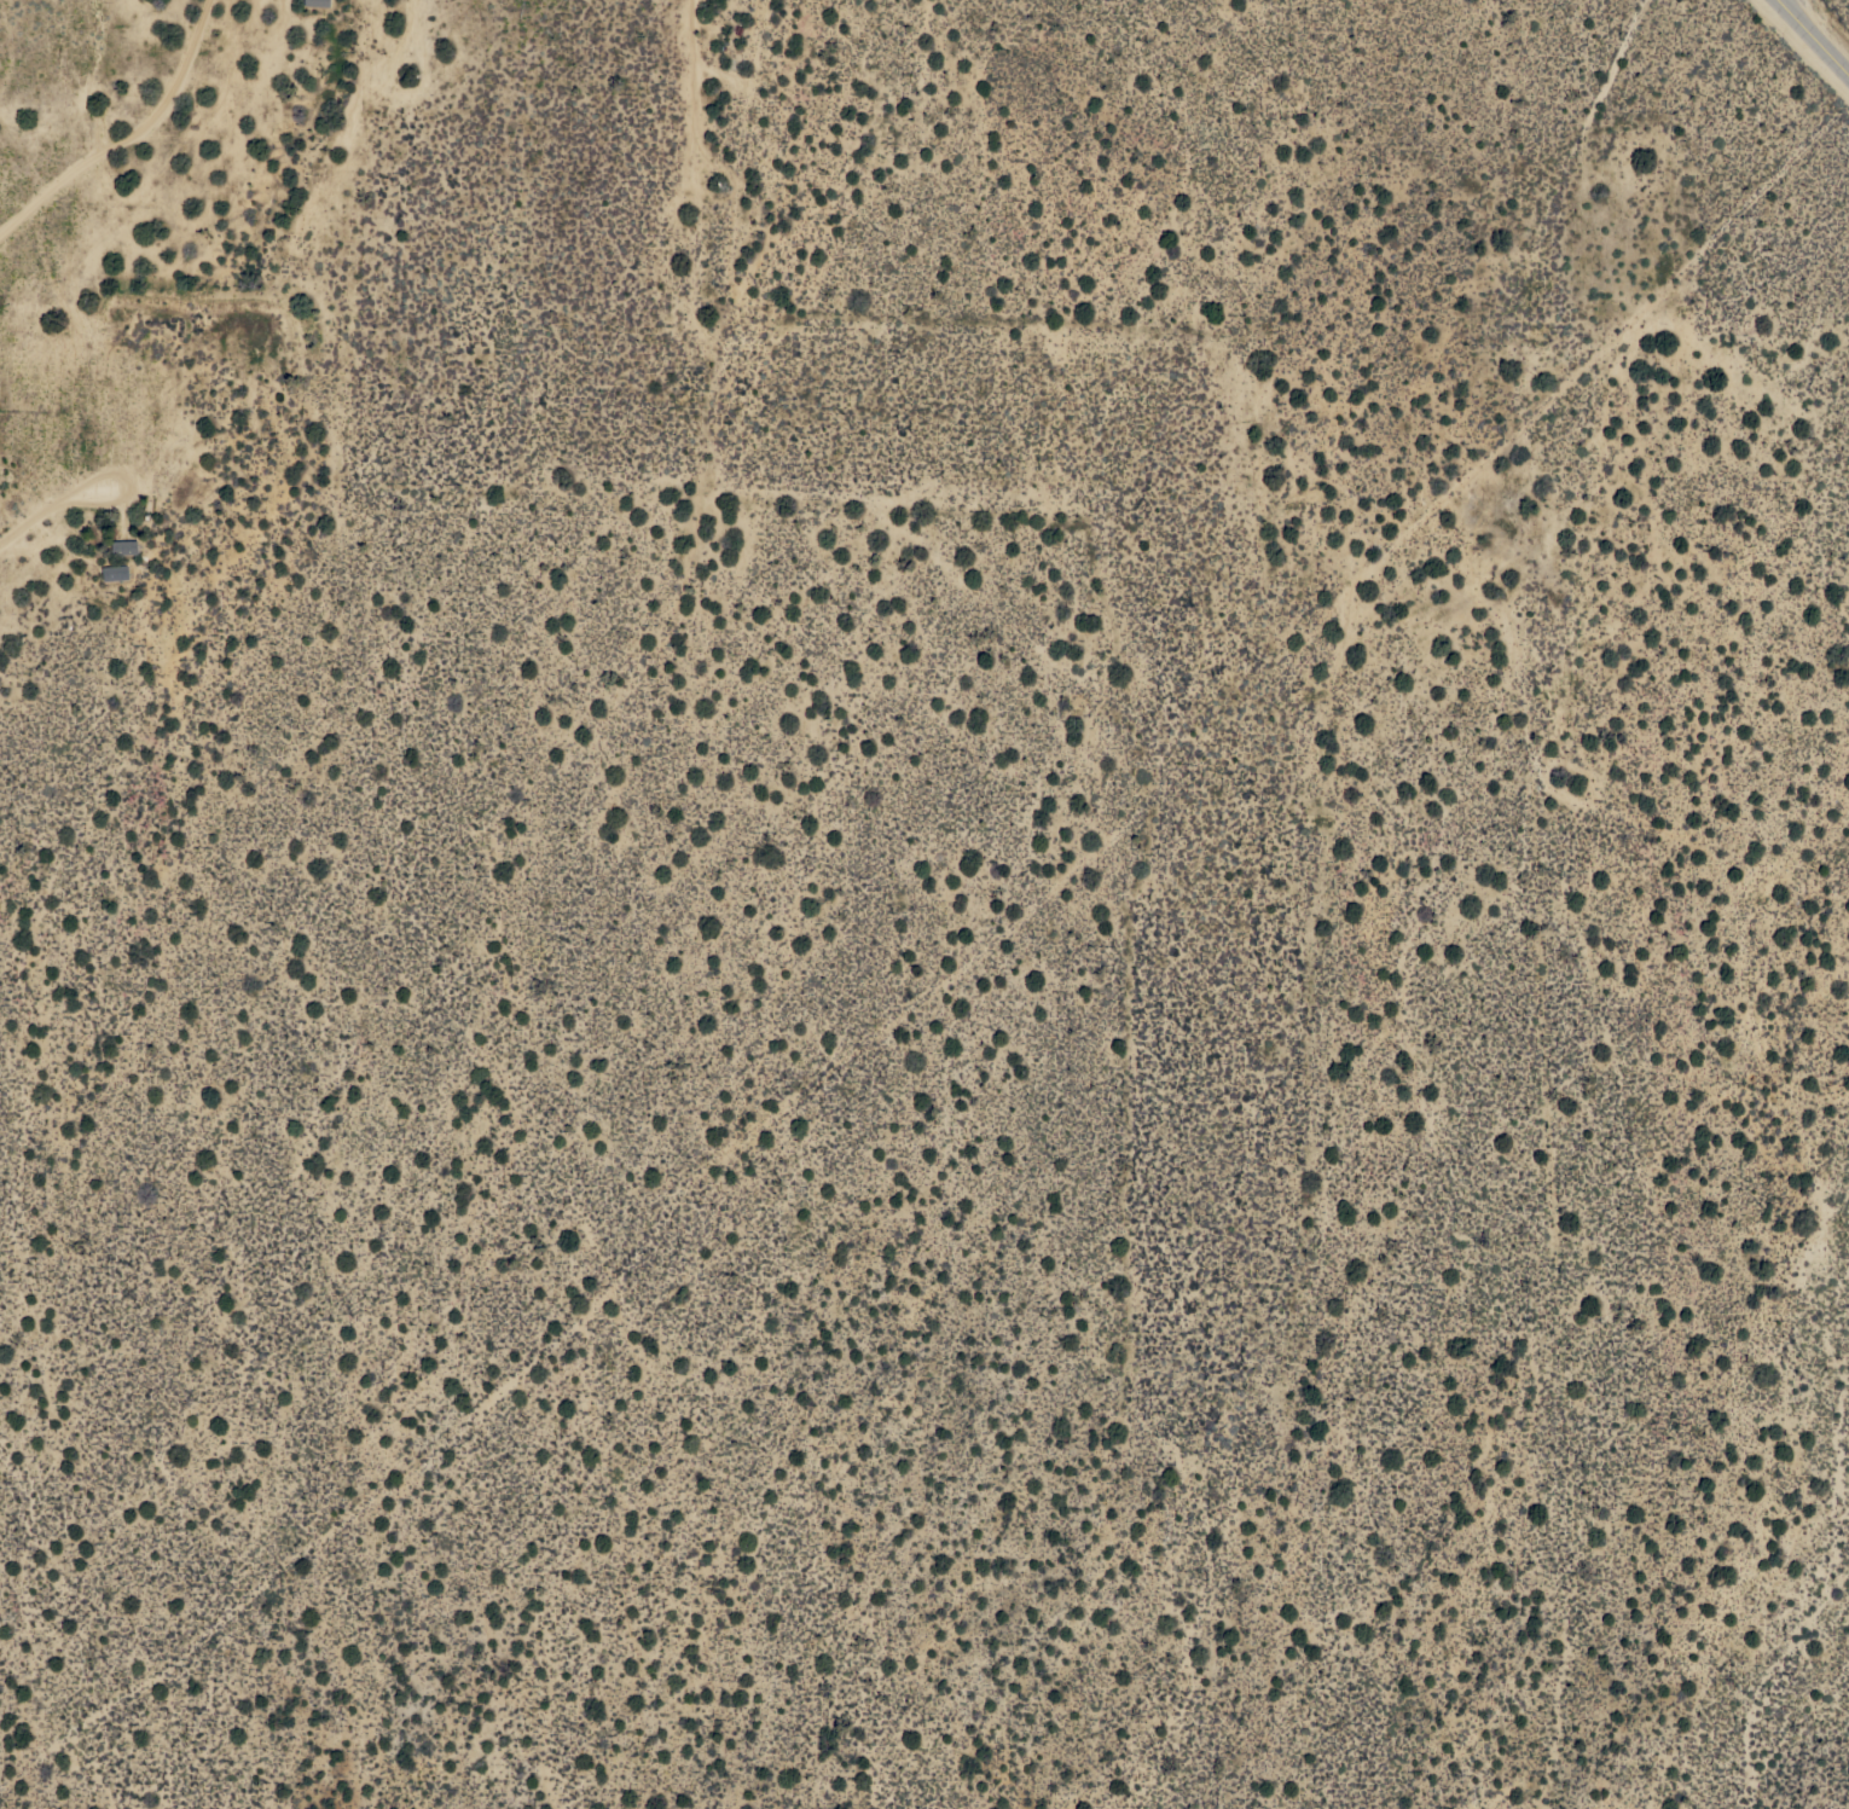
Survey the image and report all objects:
building: (319, 2)
road: (1813, 36)
road: (133, 141)
building: (124, 546)
building: (115, 573)

